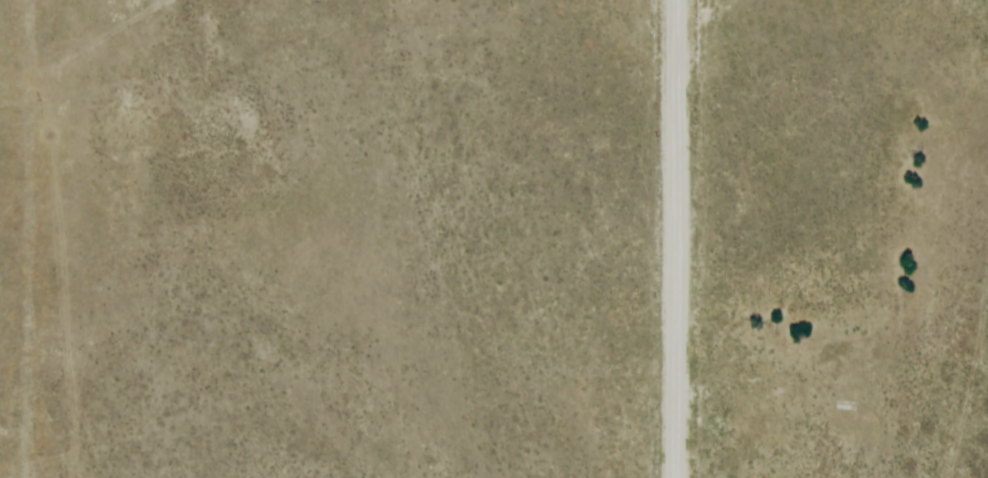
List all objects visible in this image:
road: (674, 238)

